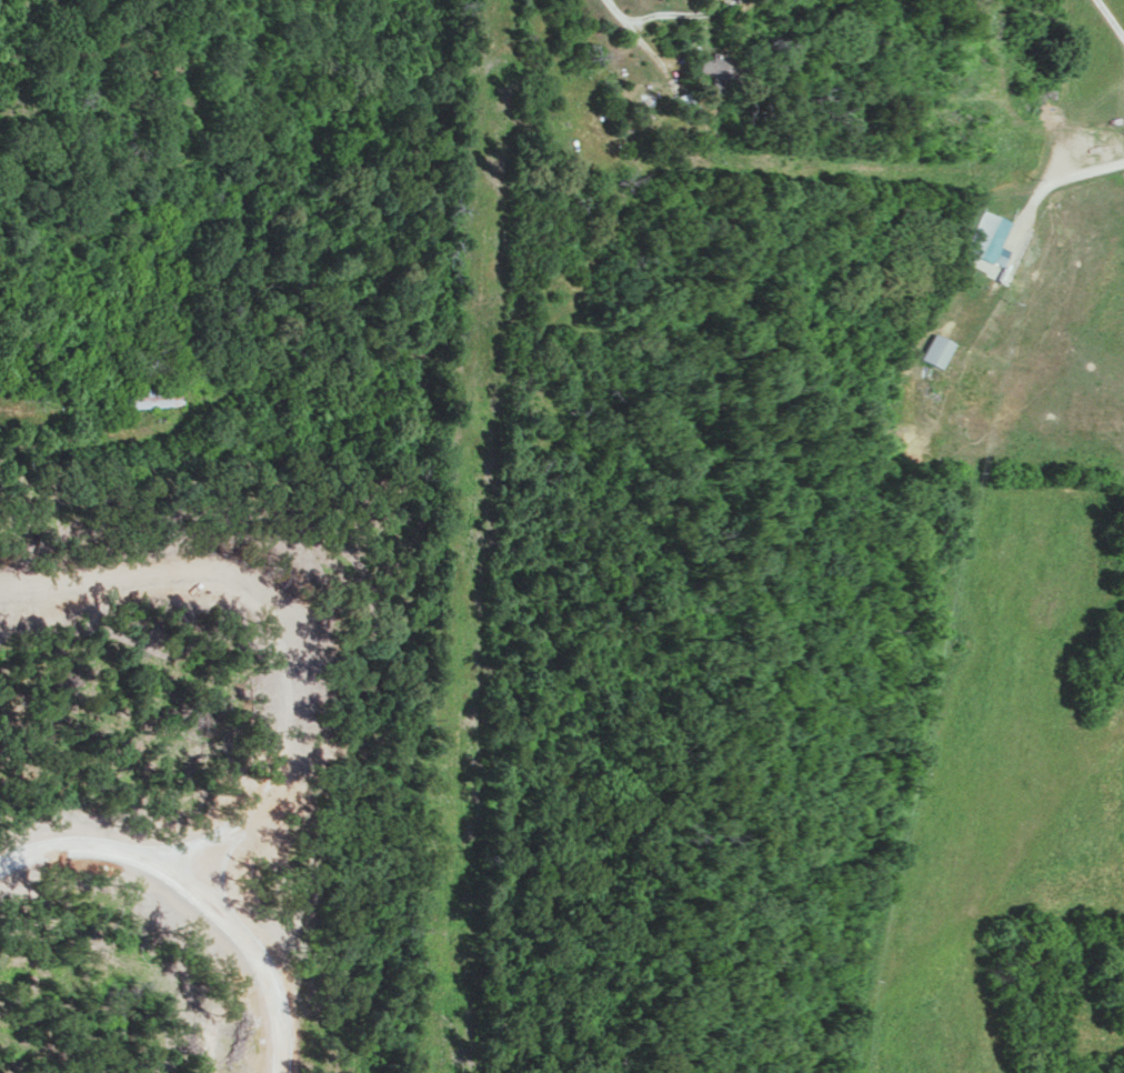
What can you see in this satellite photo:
road: (660, 18)
road: (1104, 24)
building: (721, 70)
road: (1042, 184)
building: (987, 237)
building: (934, 348)
road: (315, 605)
road: (190, 895)

